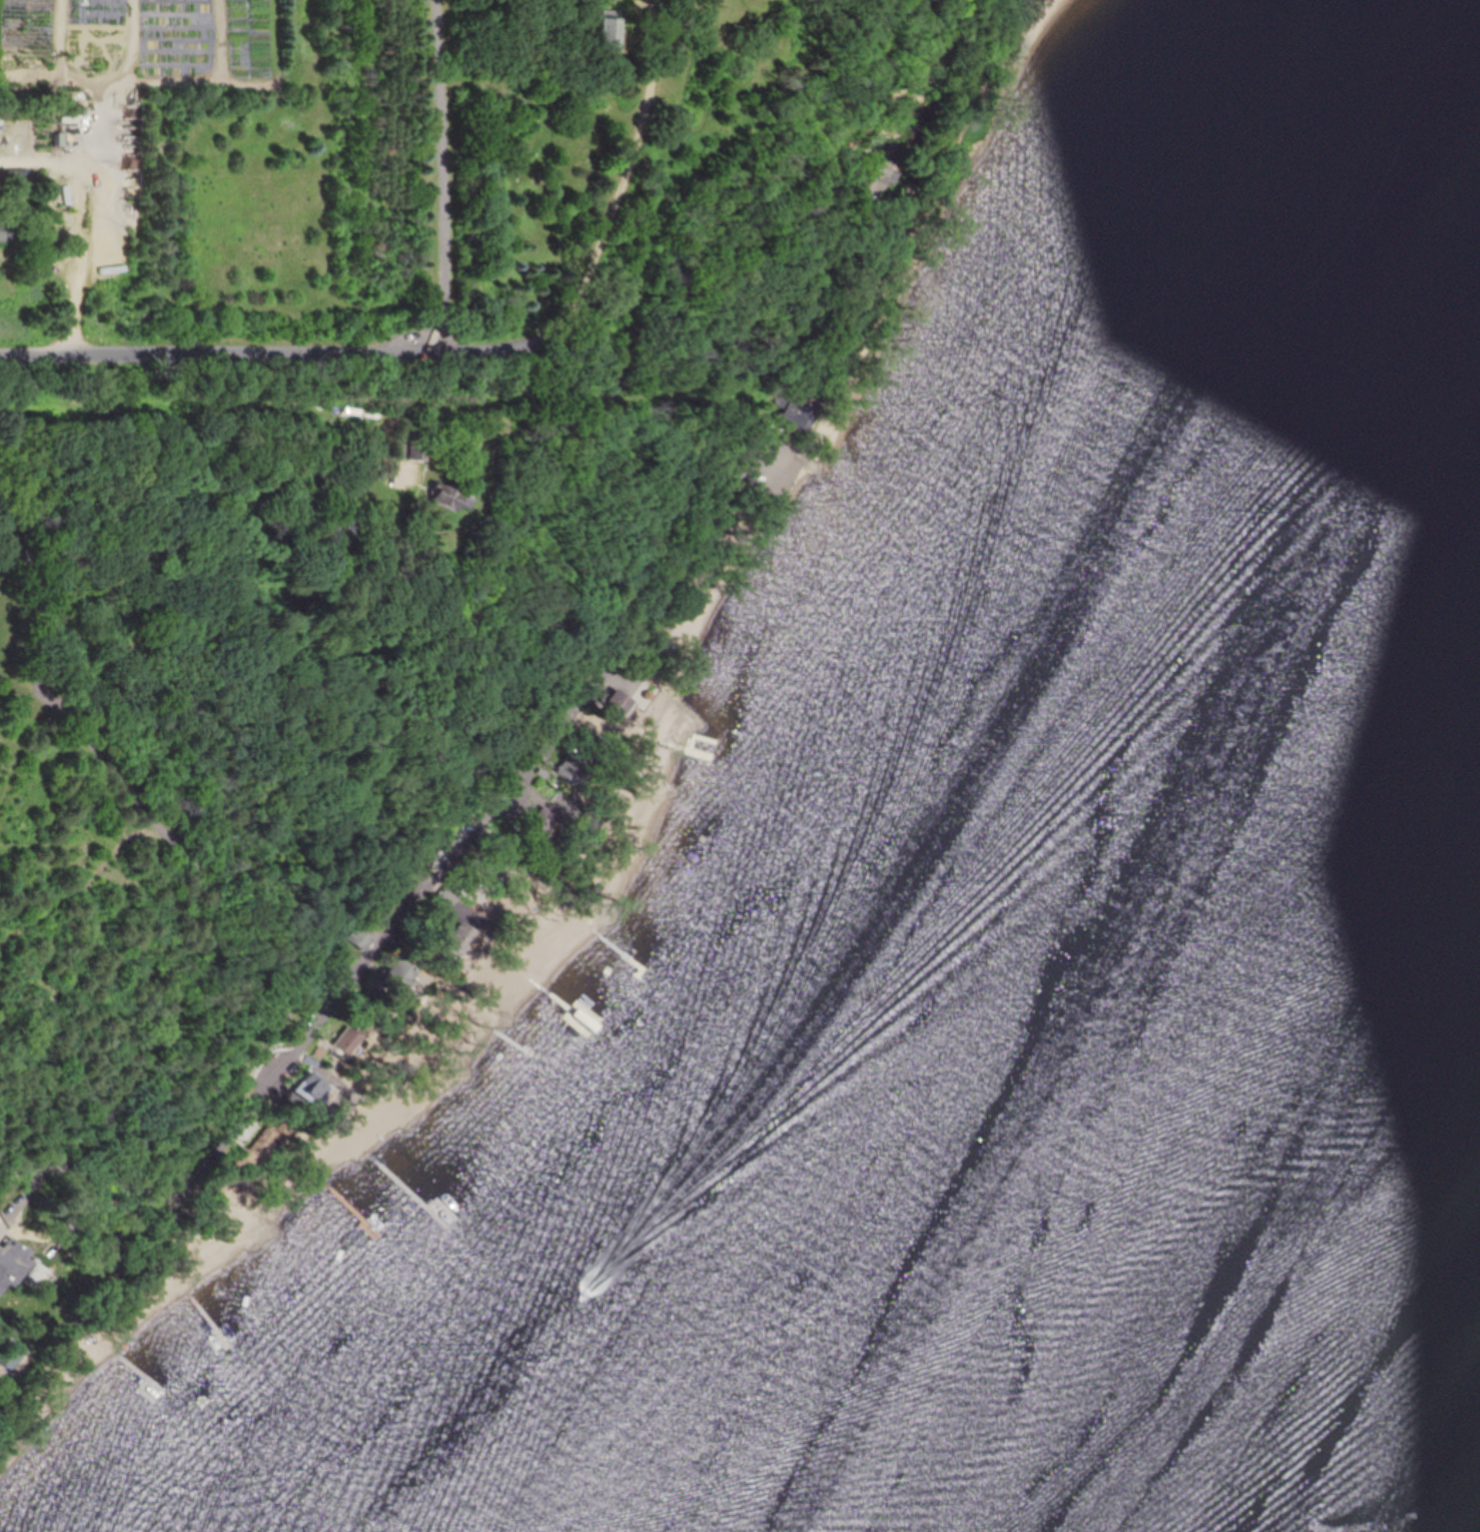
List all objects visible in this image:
building: (608, 34)
building: (249, 38)
building: (41, 43)
building: (16, 45)
road: (445, 176)
building: (864, 179)
road: (623, 194)
road: (84, 225)
building: (3, 232)
road: (254, 355)
road: (411, 400)
building: (792, 415)
building: (446, 498)
building: (614, 703)
building: (566, 768)
building: (467, 826)
building: (442, 896)
building: (454, 938)
building: (356, 939)
building: (390, 976)
building: (311, 1090)
river: (1172, 1136)
road: (164, 1172)
road: (16, 1226)
building: (13, 1262)

